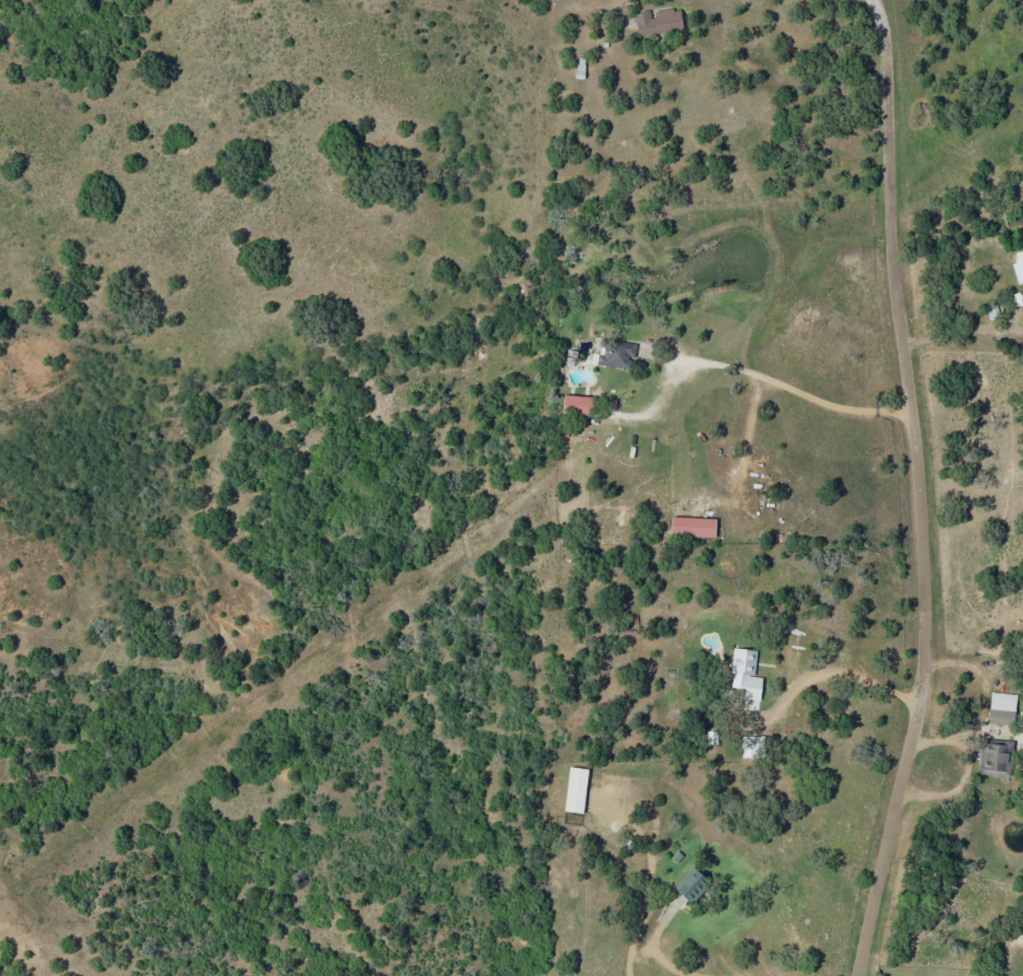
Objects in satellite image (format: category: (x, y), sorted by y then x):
building: (658, 22)
building: (1019, 267)
building: (1018, 299)
building: (615, 355)
building: (578, 405)
road: (924, 489)
building: (693, 527)
building: (746, 674)
building: (1003, 708)
building: (753, 747)
building: (994, 760)
building: (576, 790)
building: (692, 885)

